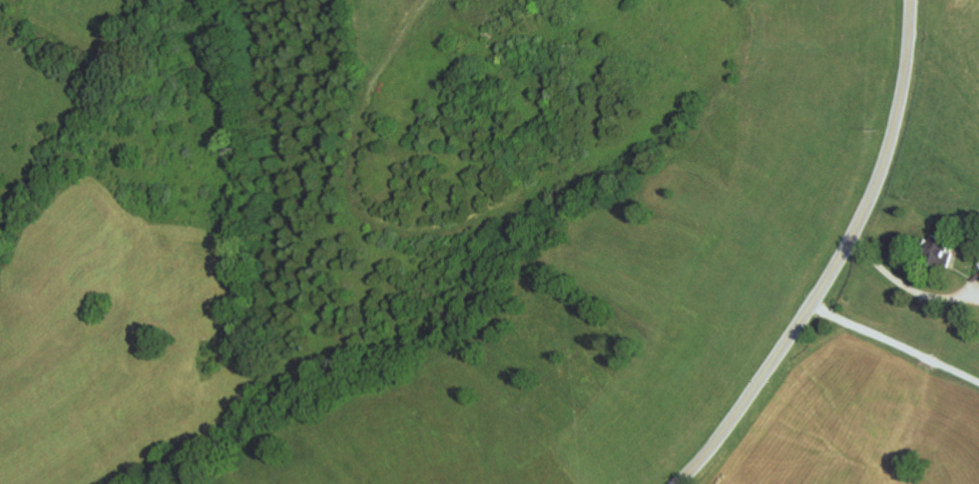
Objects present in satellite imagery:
building: (940, 249)
road: (837, 260)
road: (965, 272)
road: (907, 285)
road: (895, 343)

